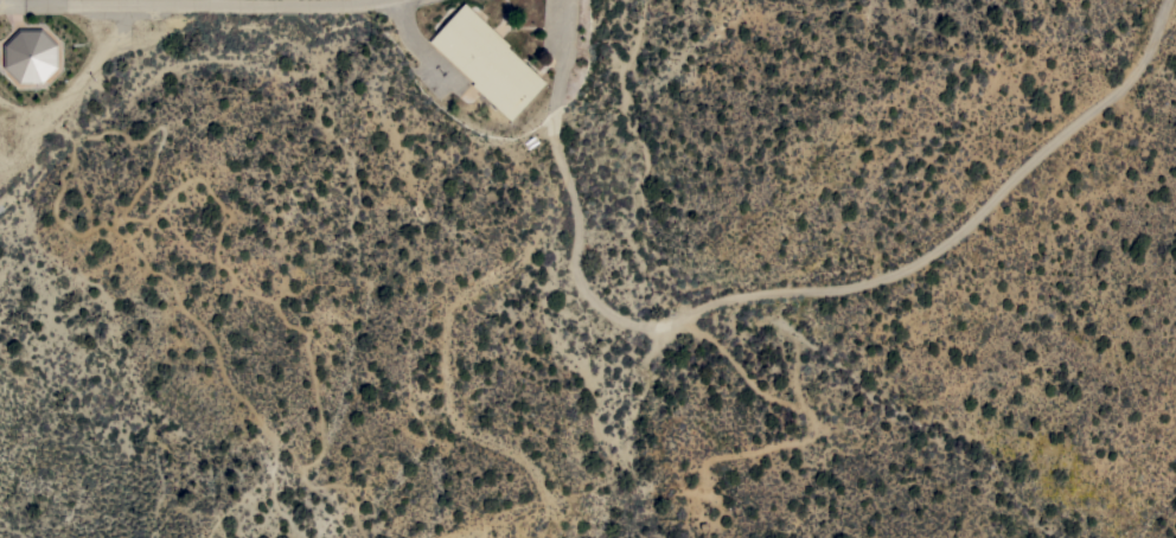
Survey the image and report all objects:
road: (217, 1)
road: (194, 2)
building: (30, 55)
building: (487, 60)

